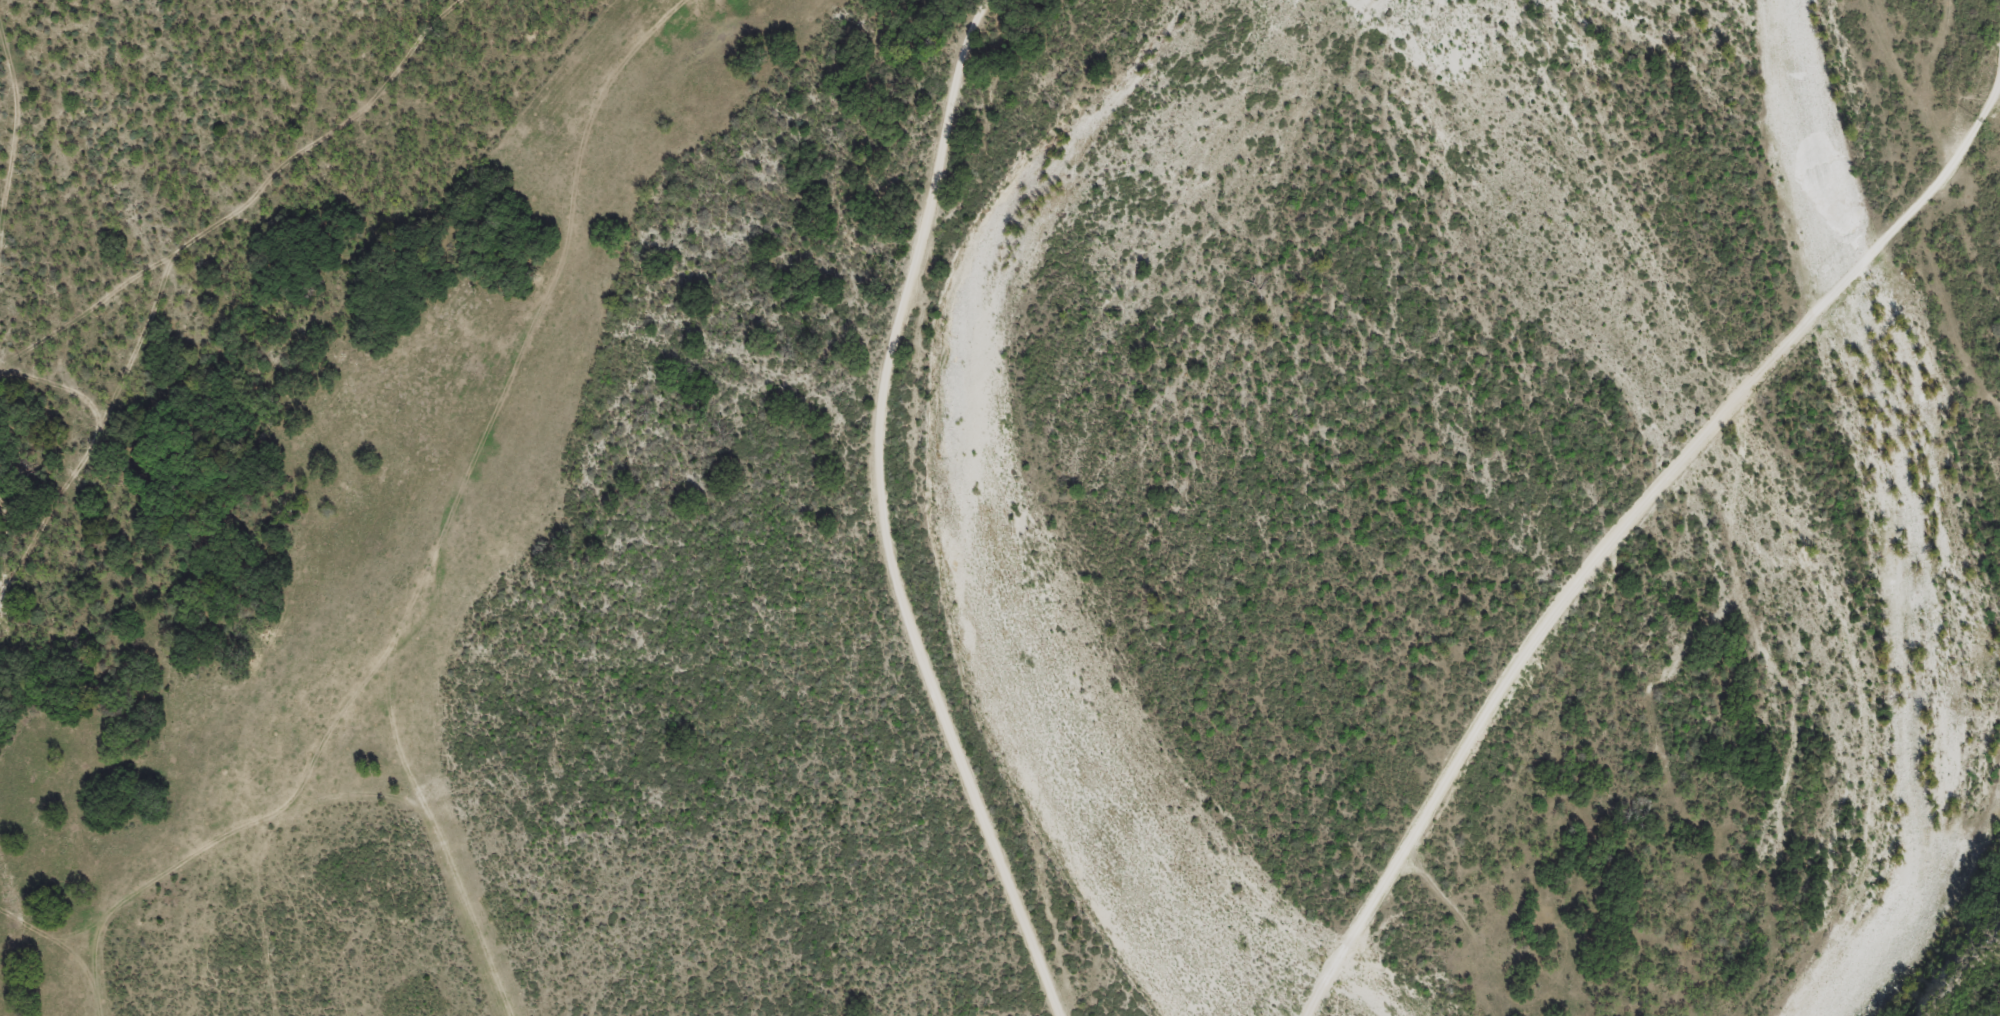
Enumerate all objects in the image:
road: (862, 214)
road: (185, 255)
road: (887, 512)
road: (1624, 525)
road: (189, 864)
airport runway: (462, 909)

